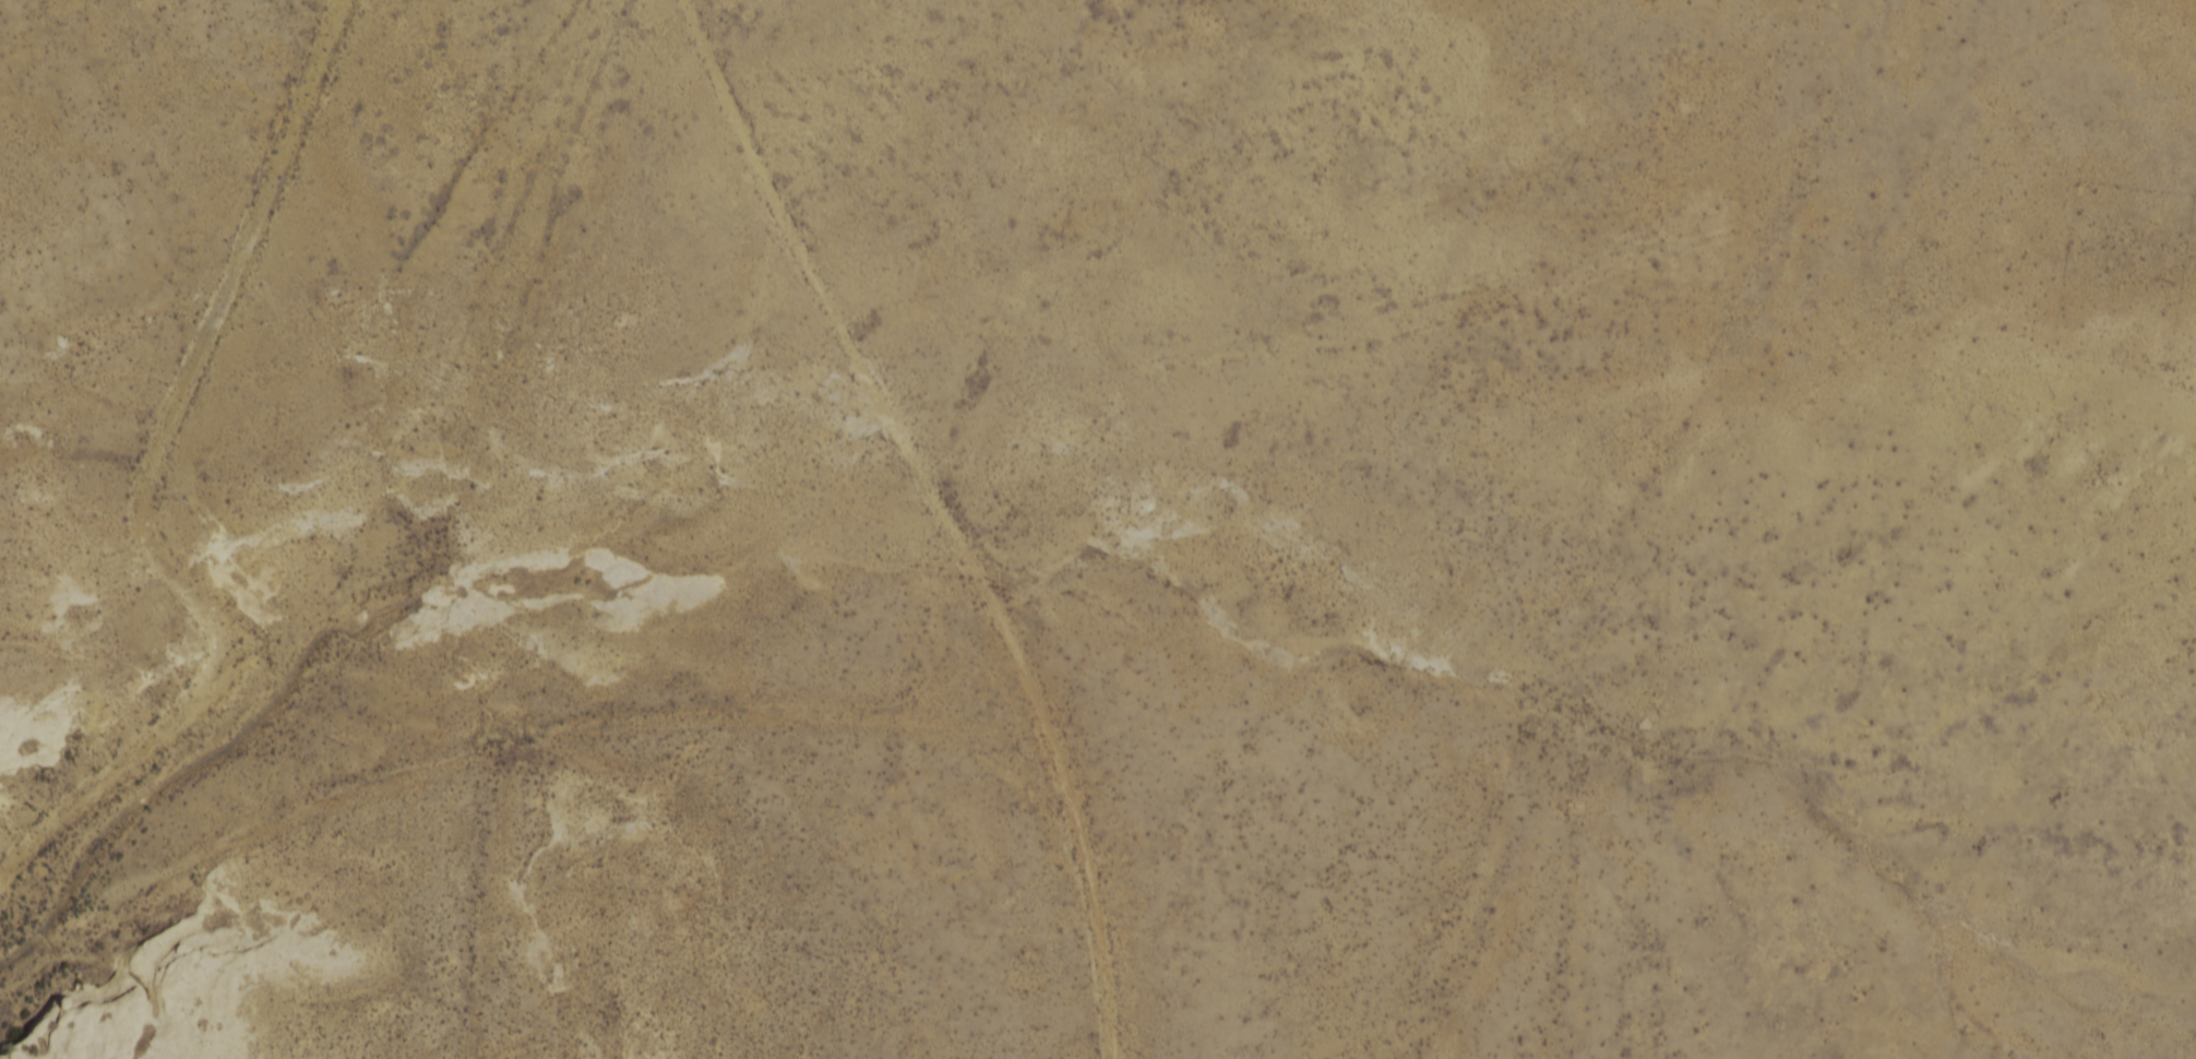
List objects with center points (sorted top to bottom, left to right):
road: (144, 484)
road: (947, 513)
road: (478, 742)

